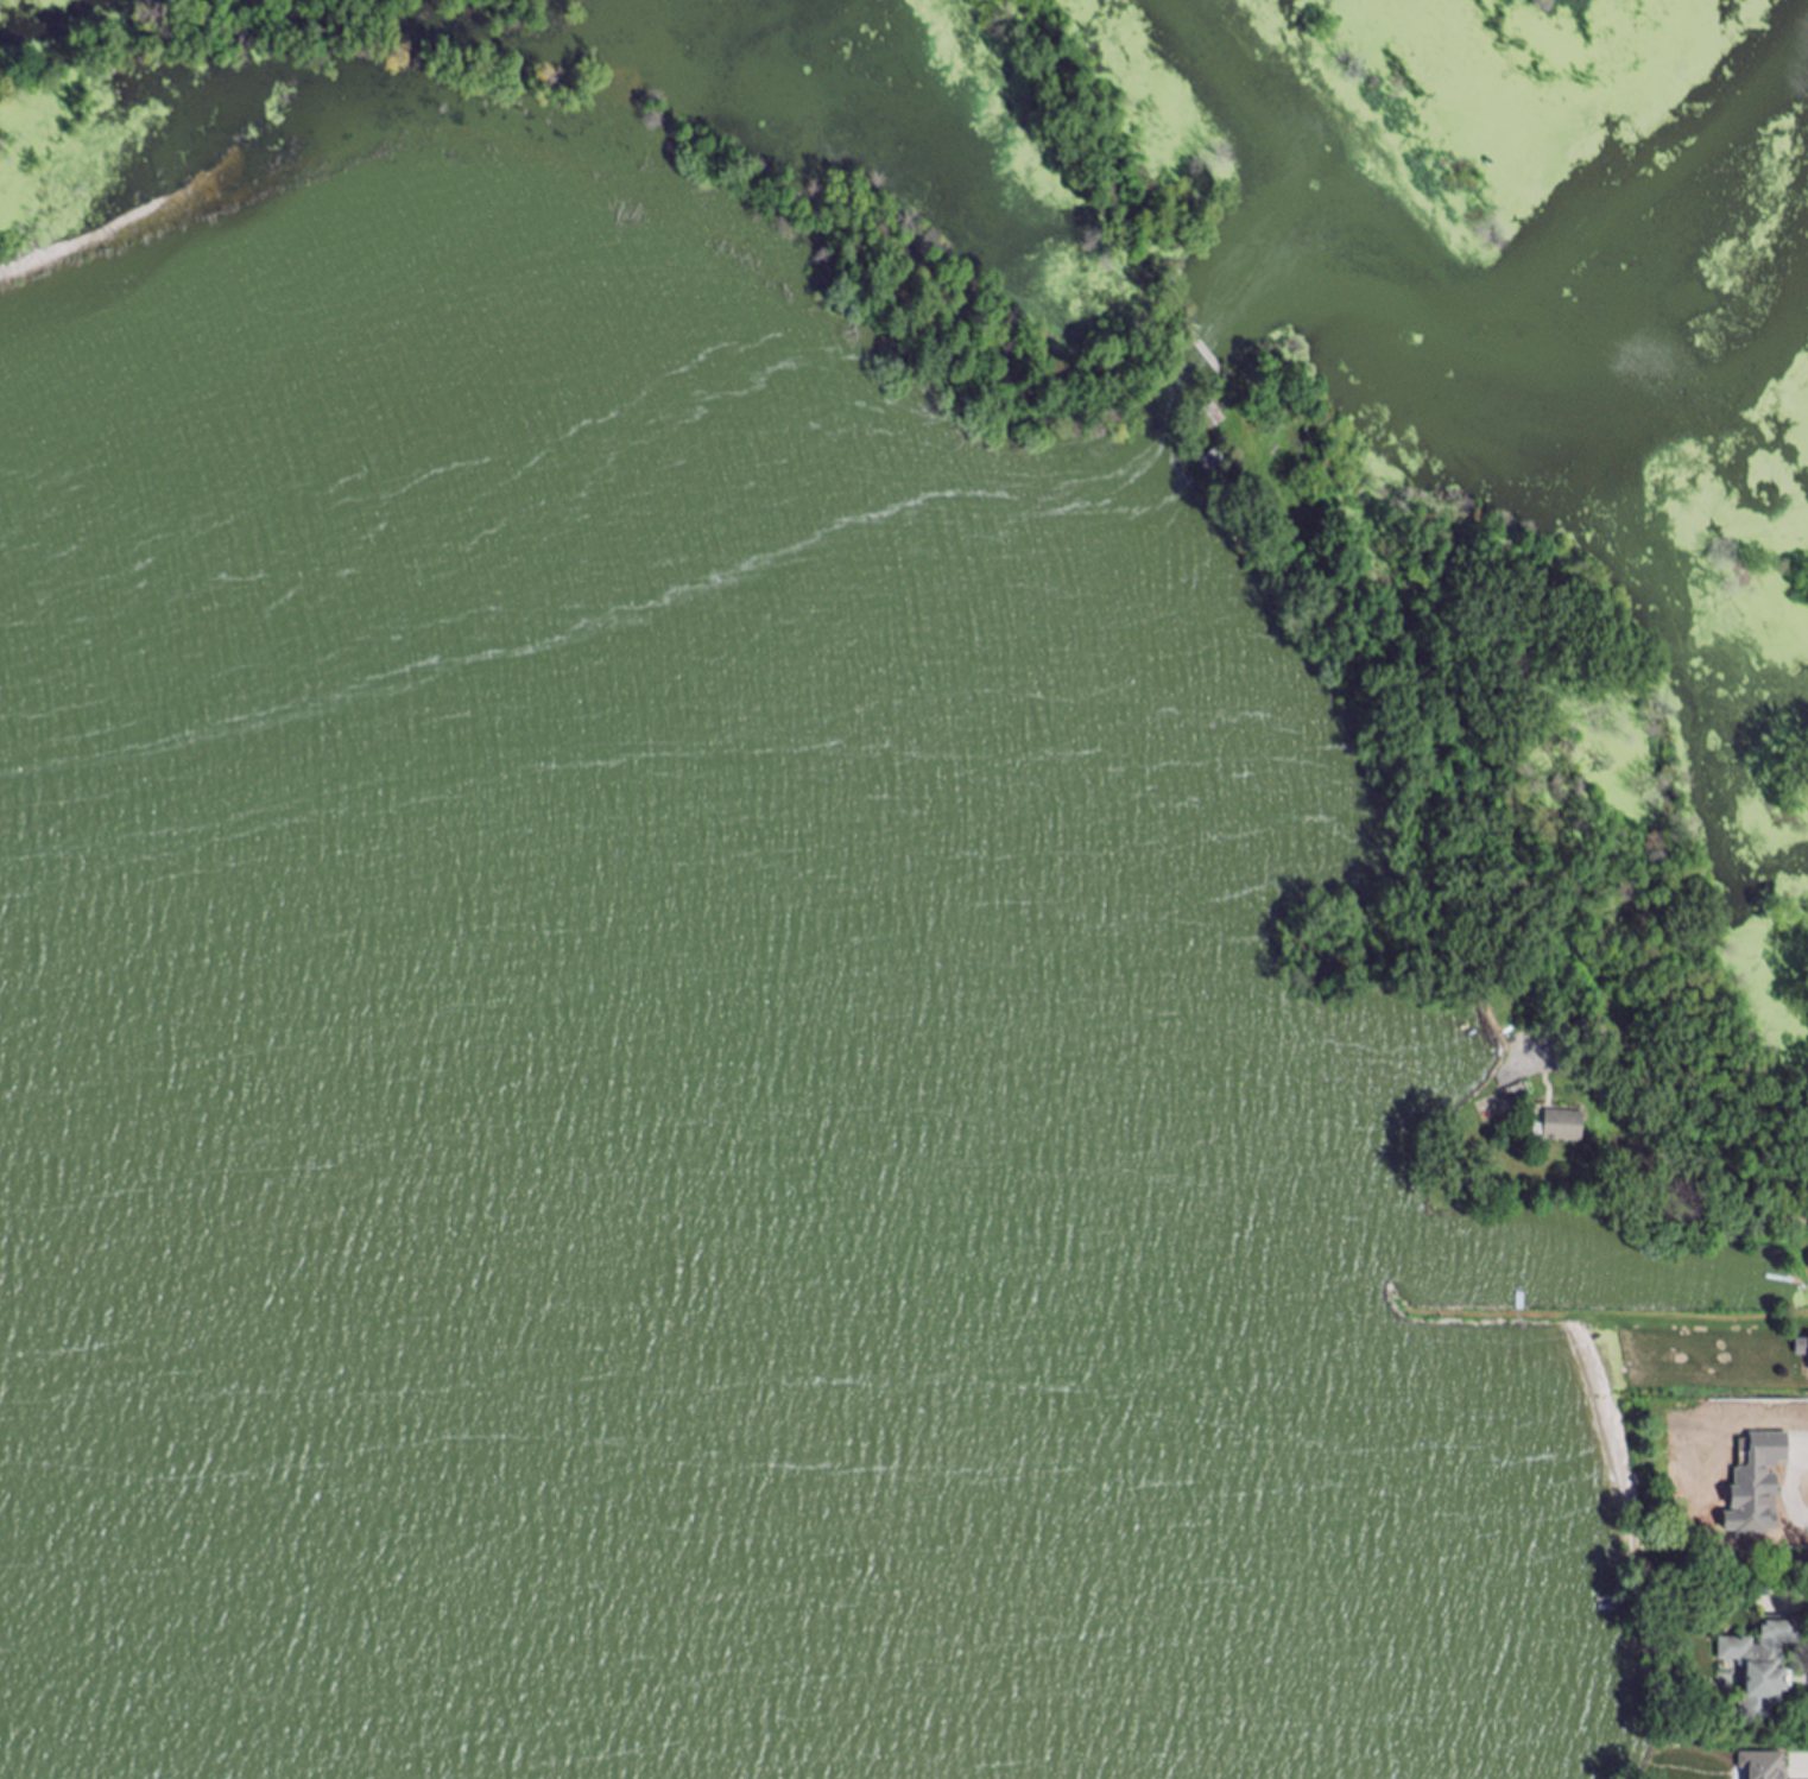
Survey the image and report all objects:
building: (1594, 1030)
building: (1566, 1127)
building: (1803, 1349)
building: (1757, 1483)
road: (1795, 1490)
building: (1764, 1667)
building: (1764, 1765)

